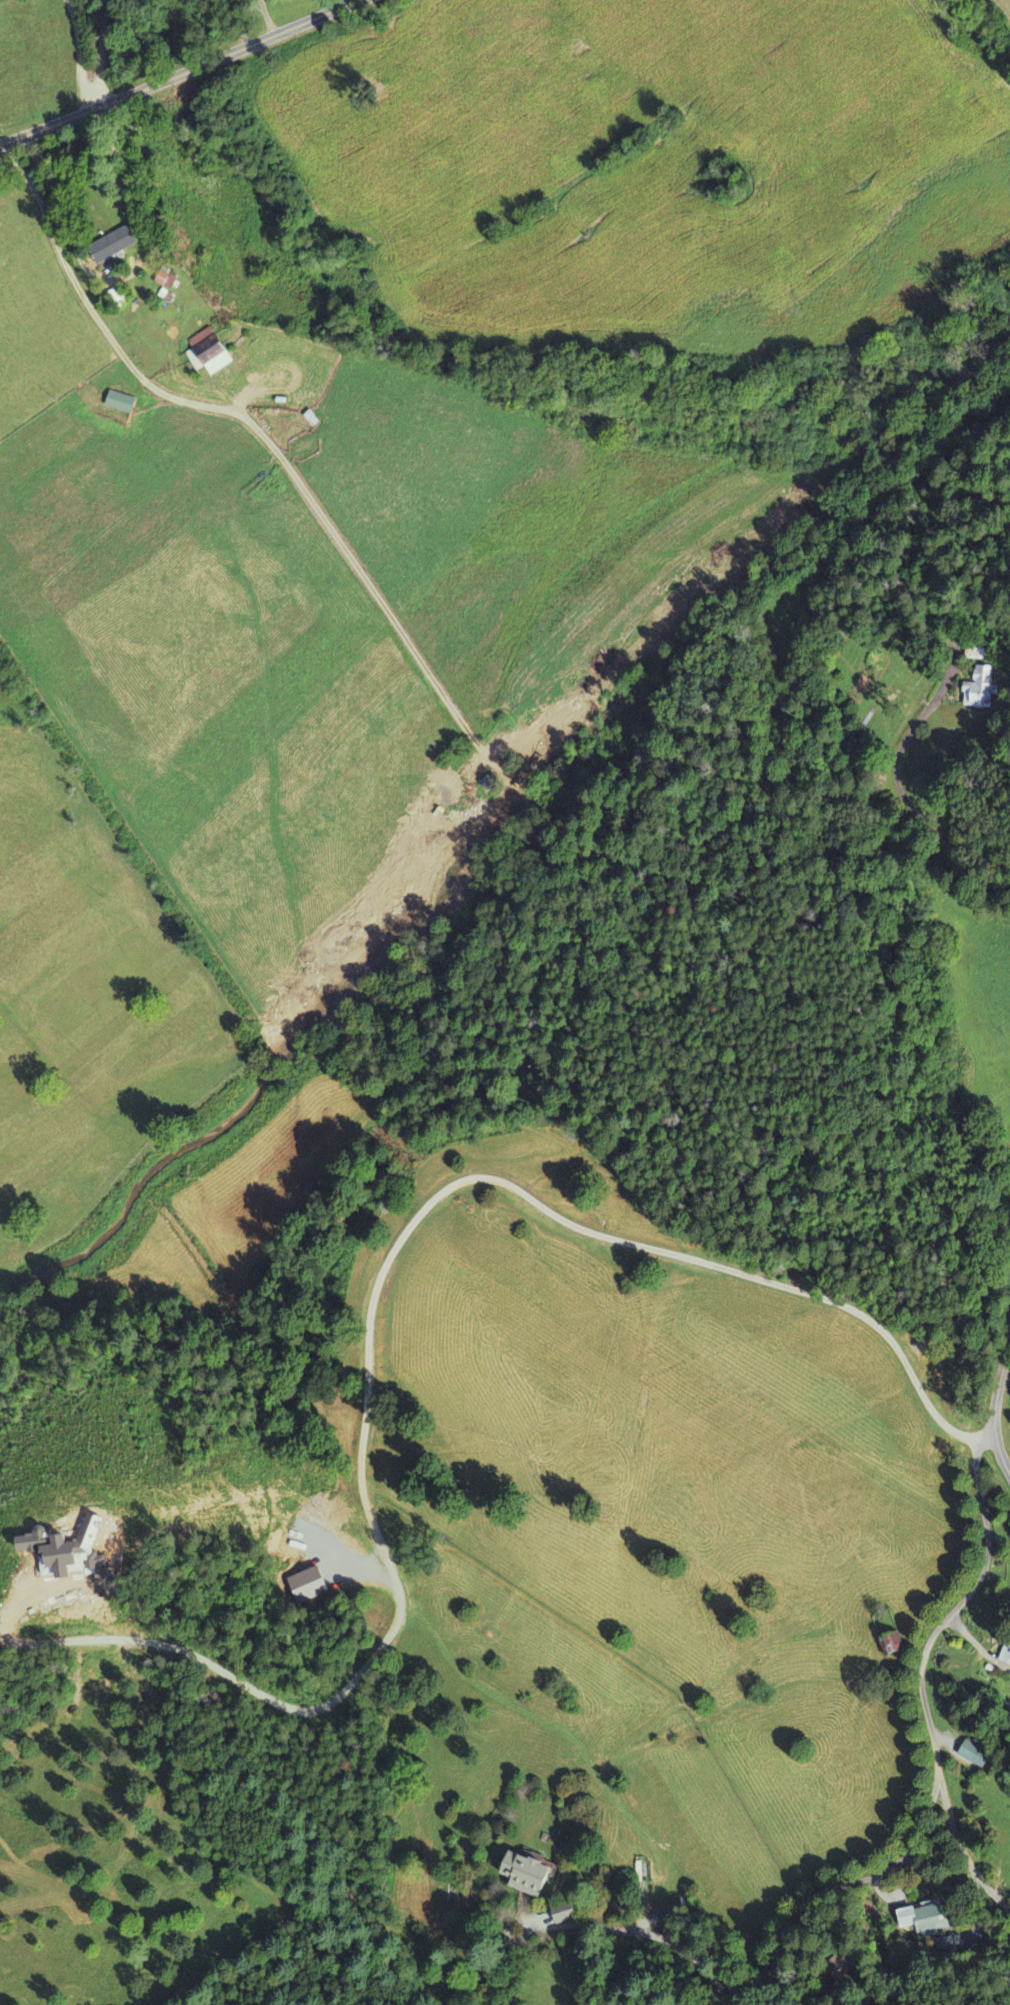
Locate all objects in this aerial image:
road: (100, 51)
road: (175, 73)
building: (125, 246)
building: (173, 283)
building: (214, 359)
building: (125, 403)
road: (995, 1407)
road: (958, 1605)
building: (1004, 1658)
building: (968, 1755)
road: (963, 1851)
building: (532, 1875)
road: (821, 1892)
building: (922, 1922)
road: (994, 1993)

